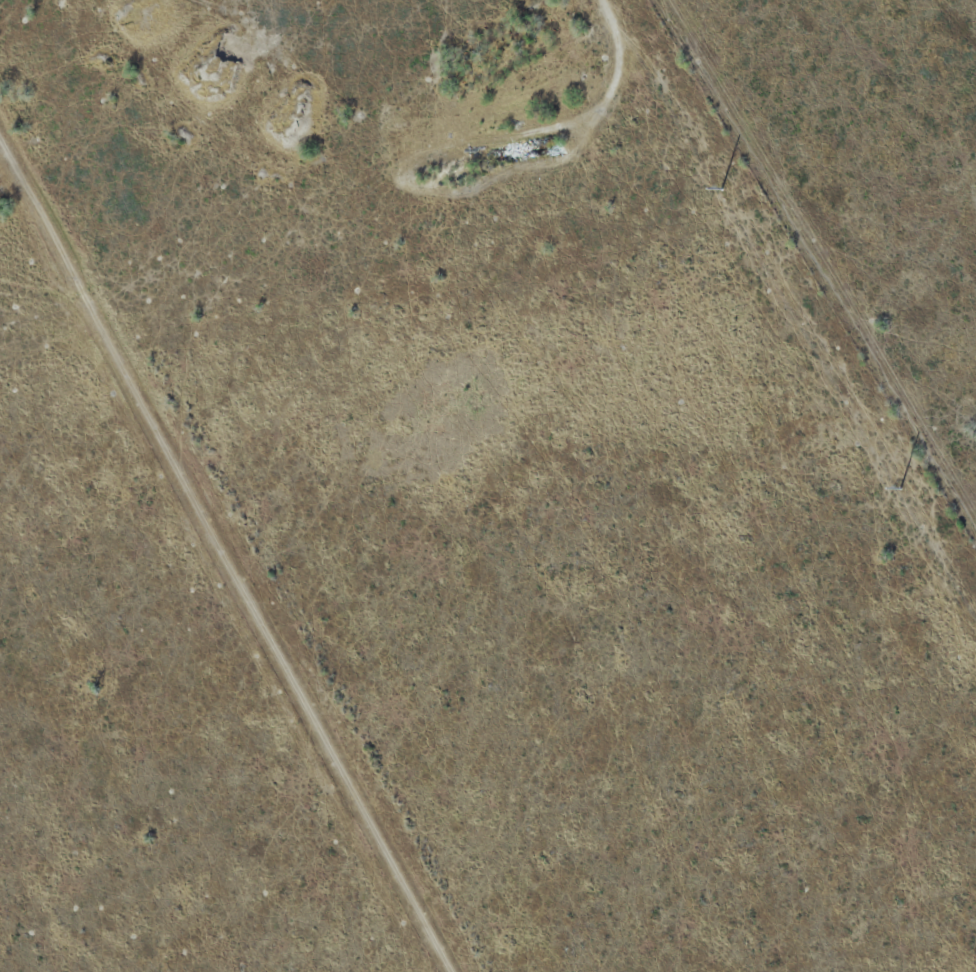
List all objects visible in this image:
power tower: (721, 189)
power tower: (899, 488)
road: (221, 561)

